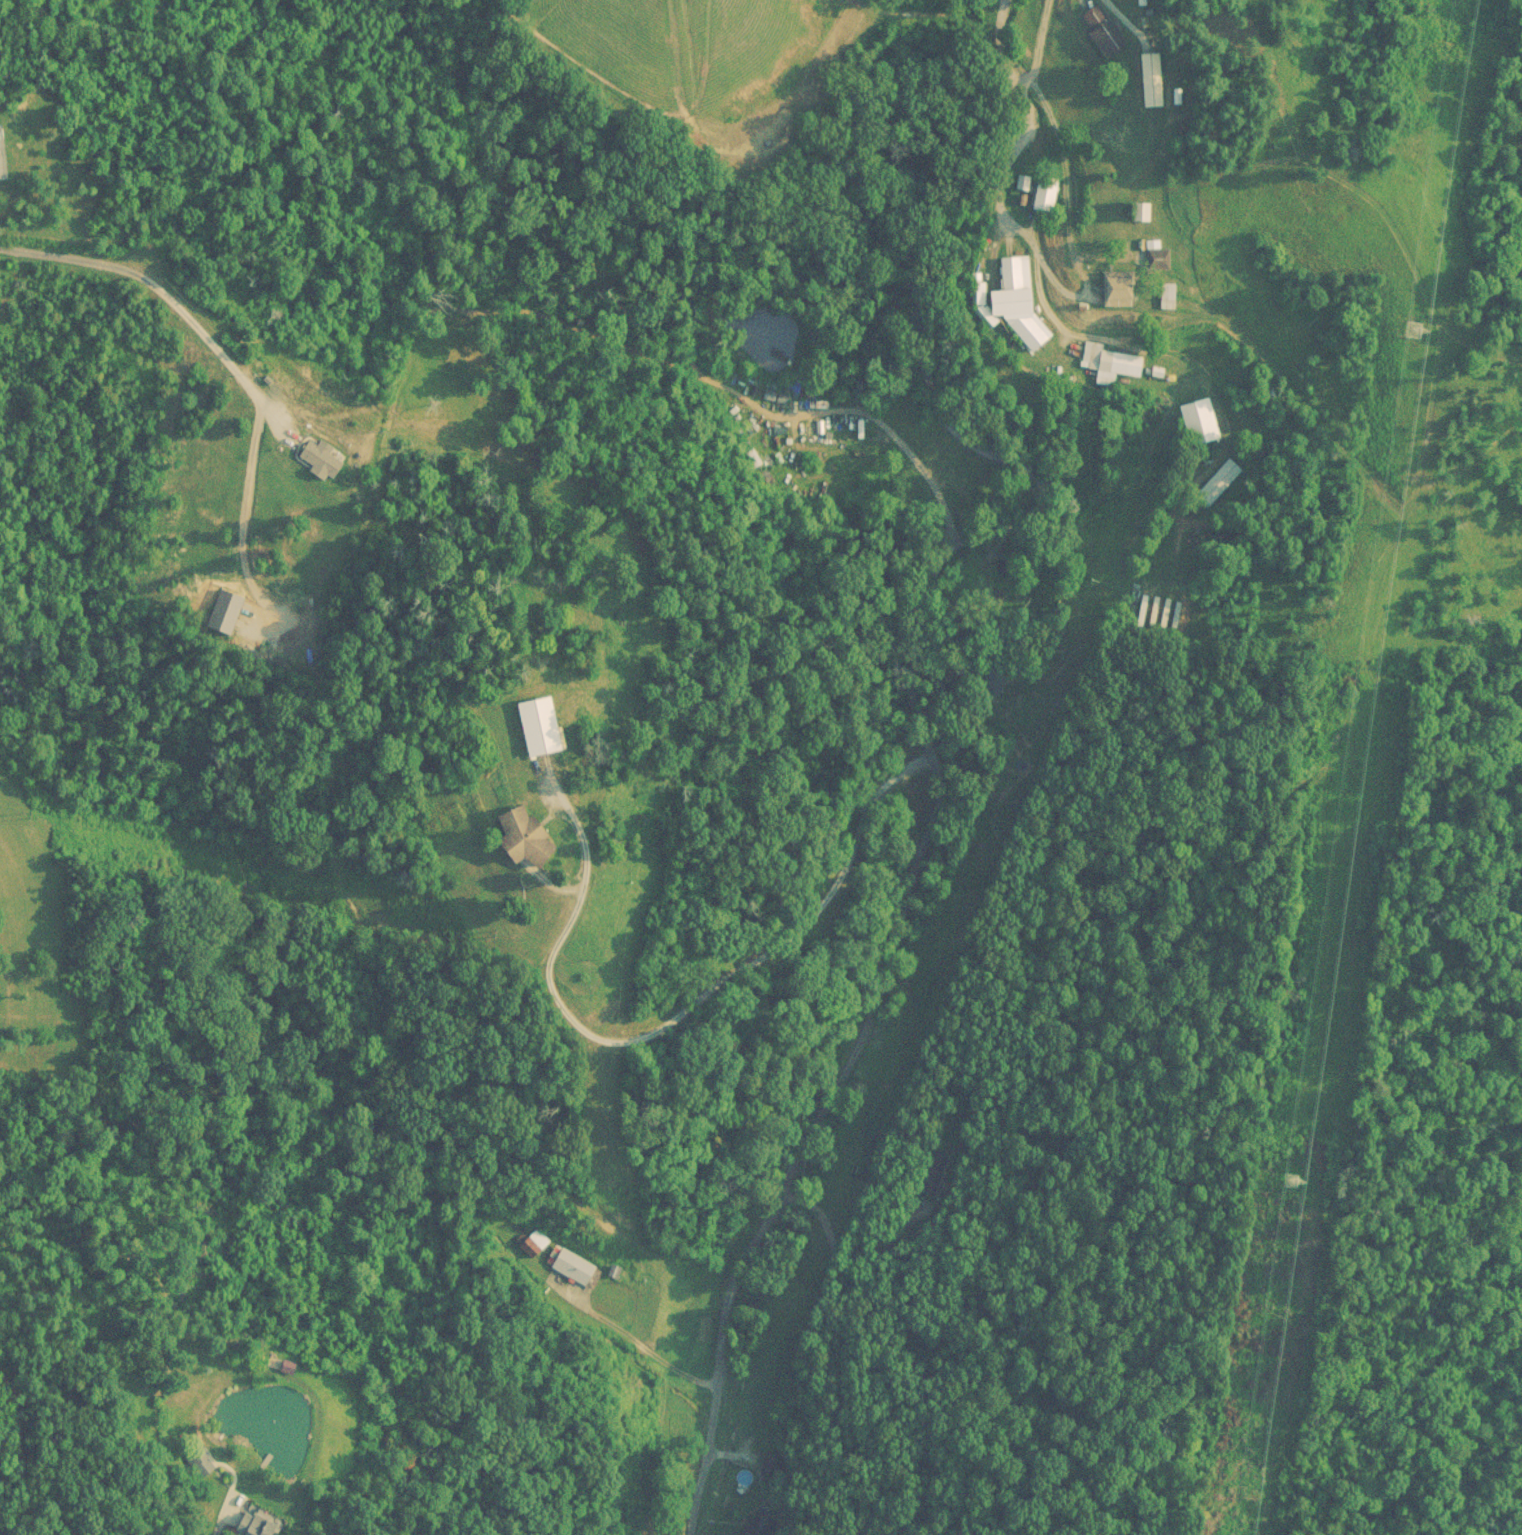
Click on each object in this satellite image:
building: (1101, 33)
building: (1151, 79)
building: (3, 153)
building: (1044, 192)
building: (1159, 257)
building: (1121, 288)
building: (1169, 292)
building: (1011, 303)
power tower: (1413, 329)
road: (226, 361)
building: (1112, 362)
building: (1160, 371)
building: (1199, 421)
building: (323, 458)
building: (1220, 478)
building: (989, 566)
road: (674, 603)
building: (540, 727)
road: (969, 737)
building: (526, 837)
road: (655, 1027)
power tower: (1292, 1179)
road: (753, 1206)
building: (569, 1266)
building: (289, 1367)
building: (766, 1463)
building: (258, 1524)
building: (754, 1525)
road: (229, 1526)

